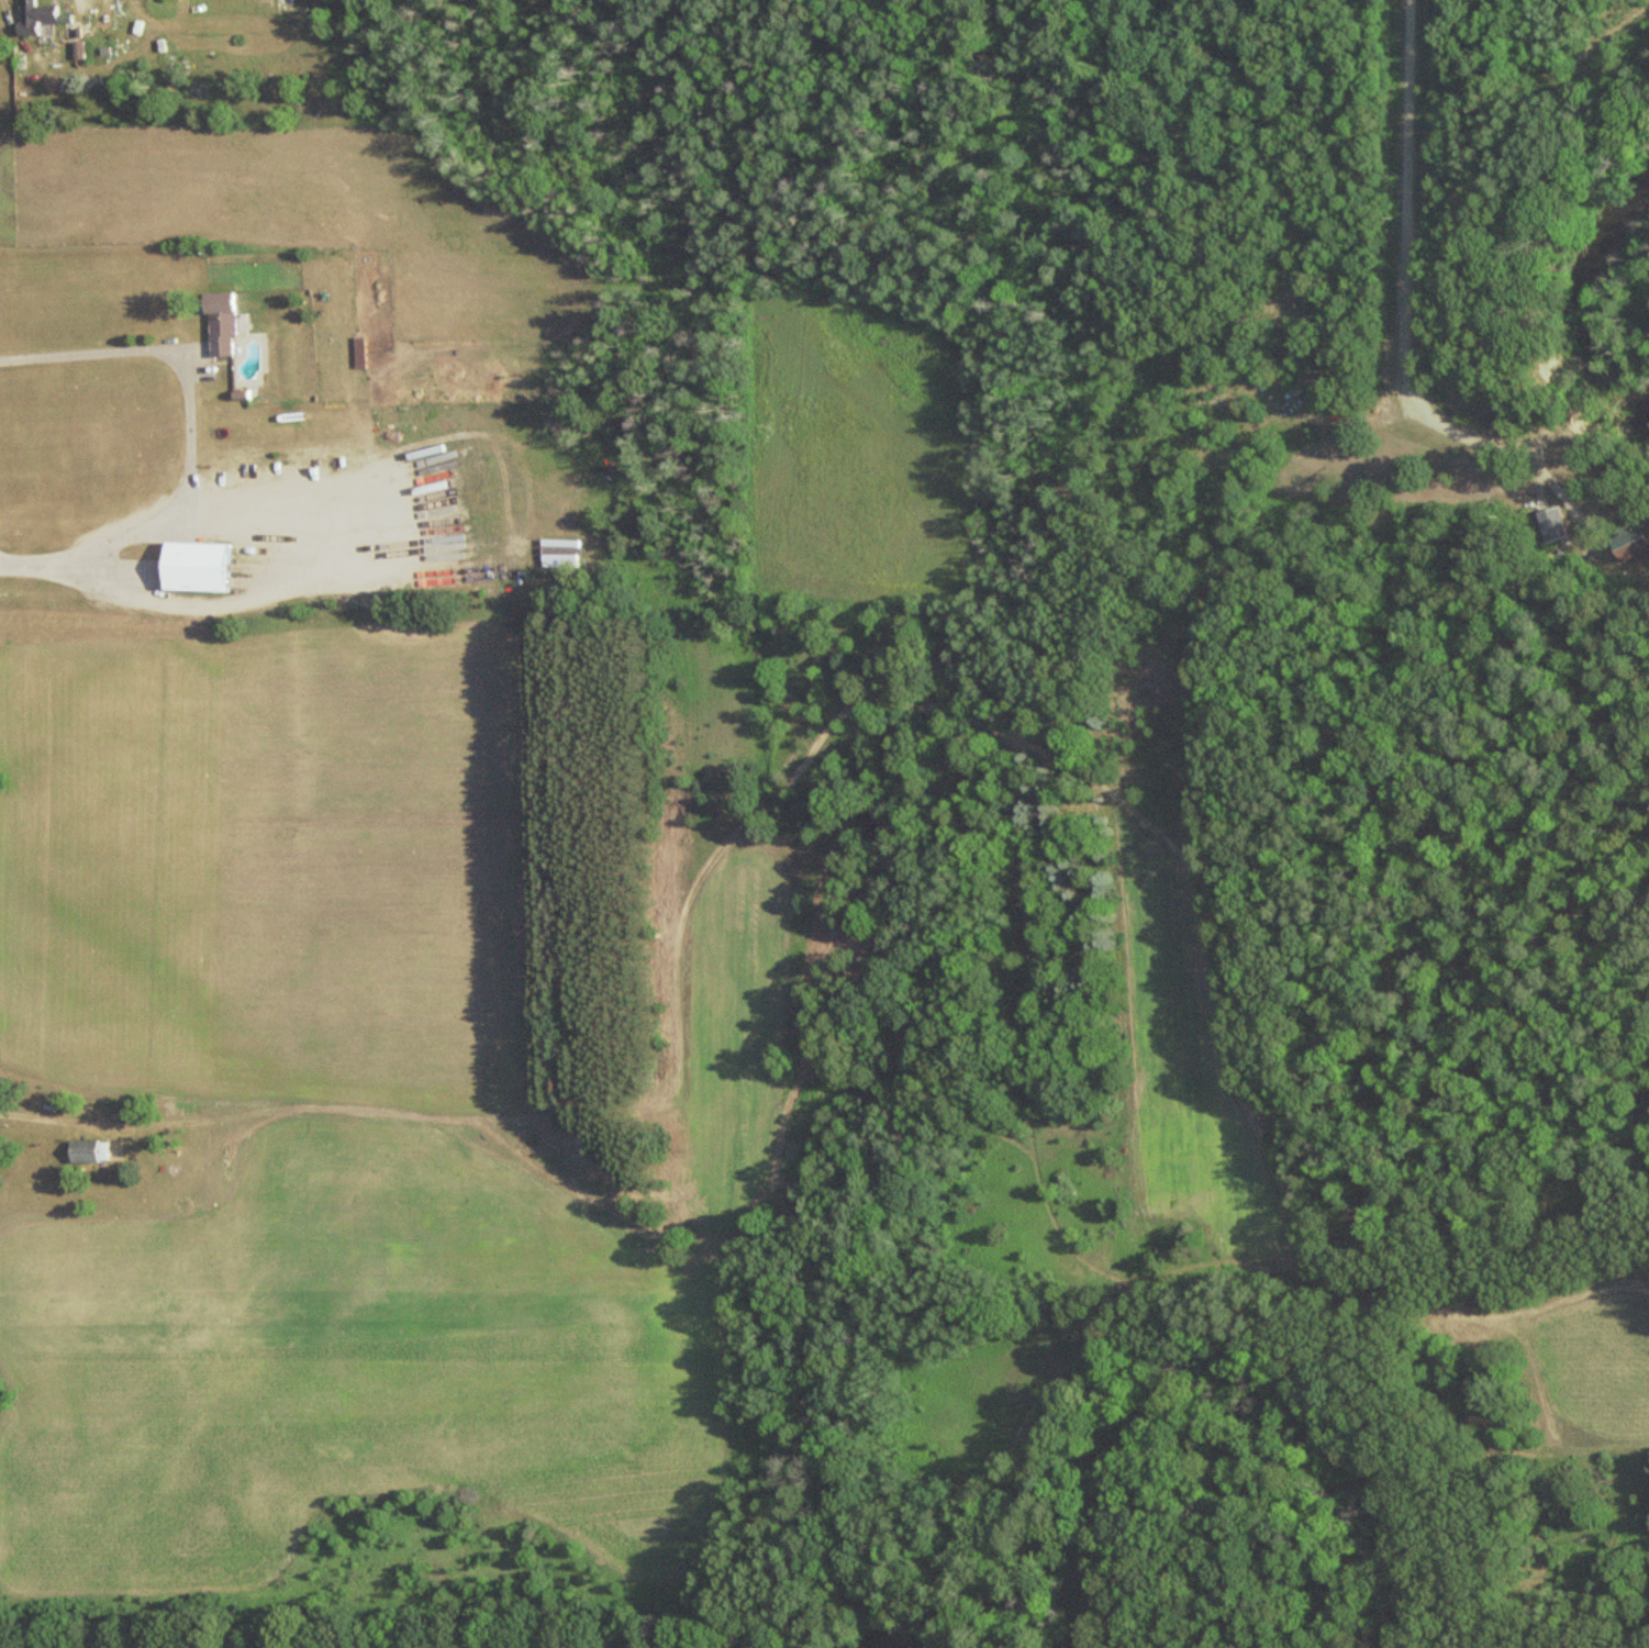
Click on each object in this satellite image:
building: (32, 16)
road: (1406, 111)
river: (1590, 294)
building: (215, 323)
road: (188, 443)
building: (1549, 525)
building: (1628, 549)
building: (188, 566)
building: (94, 1153)

